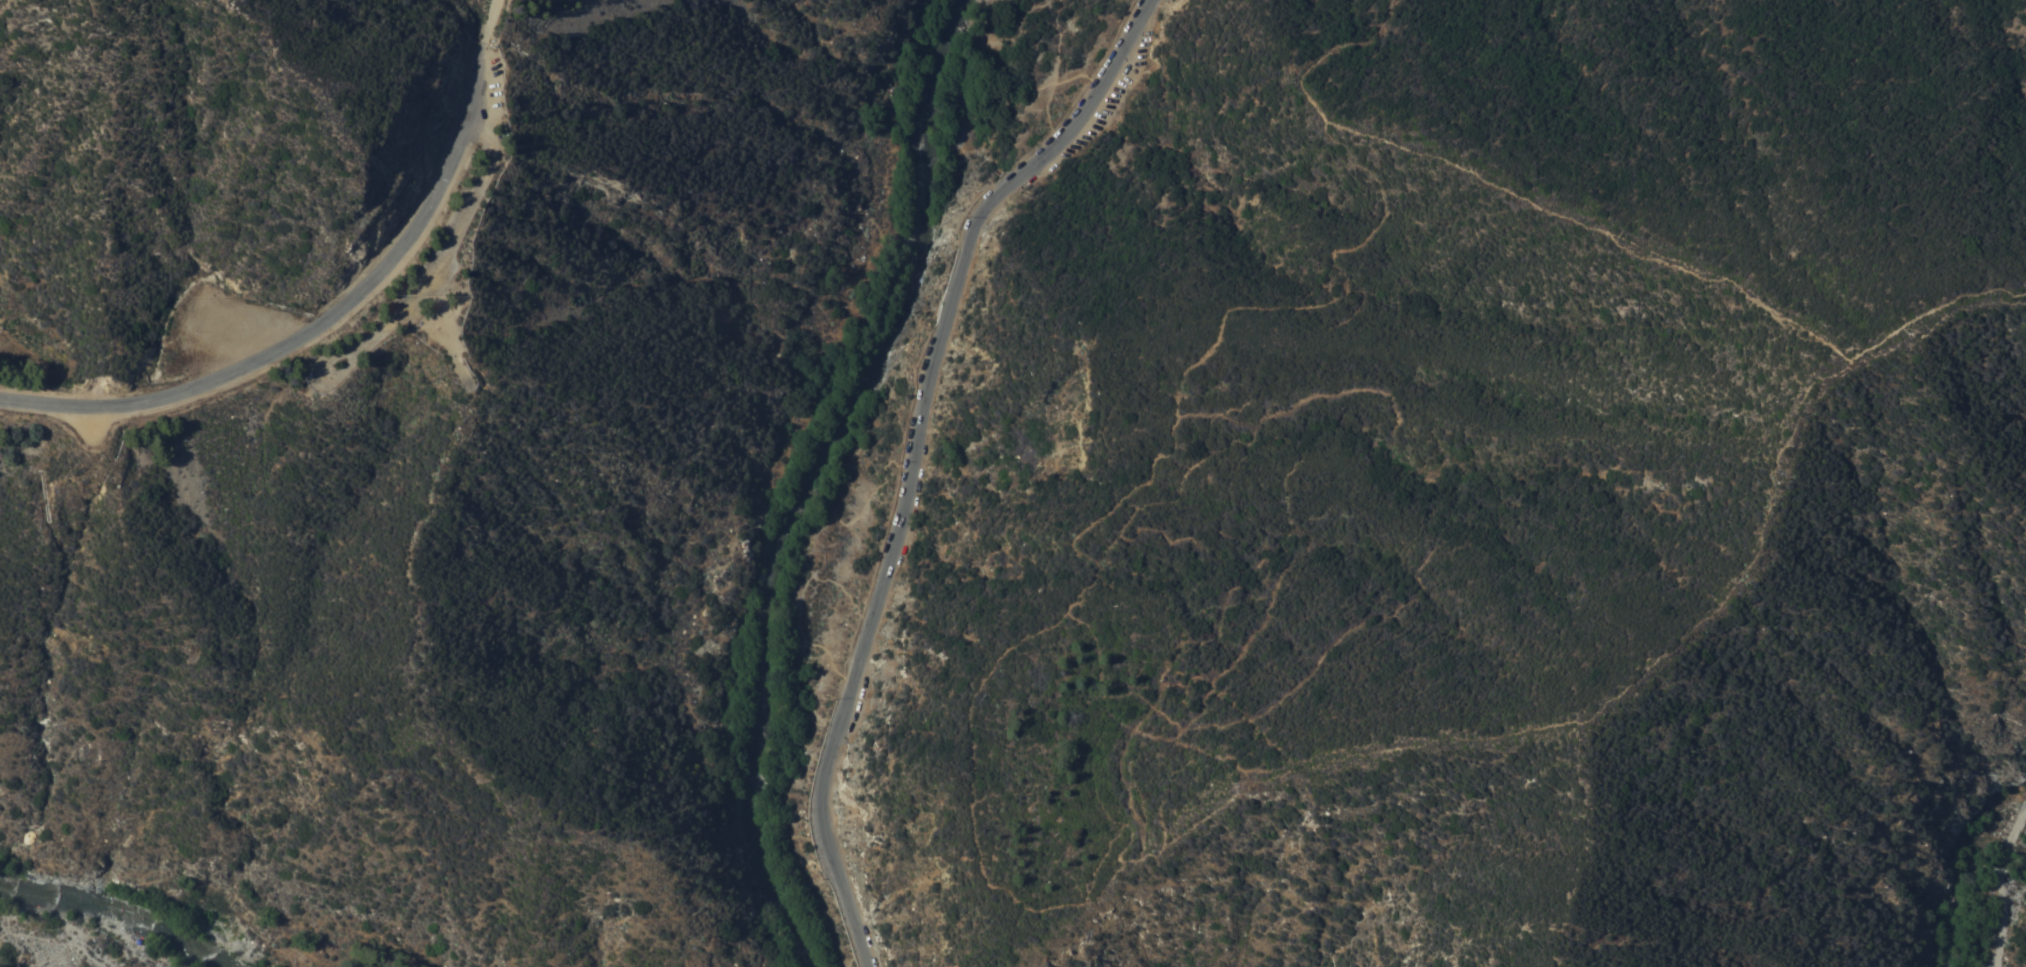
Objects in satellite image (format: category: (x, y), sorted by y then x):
road: (490, 22)
parking lot: (492, 96)
parking lot: (1104, 106)
road: (440, 261)
road: (319, 327)
road: (915, 456)
river: (812, 480)
road: (2001, 888)
river: (114, 906)

